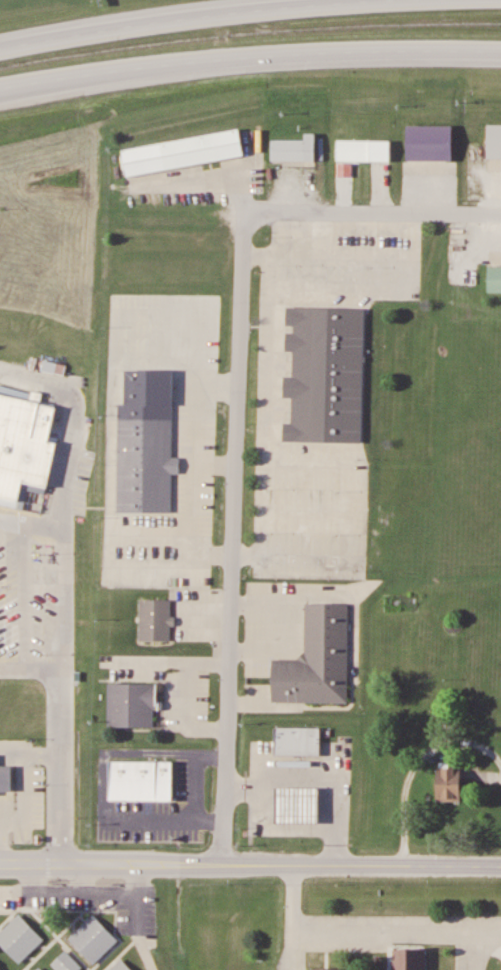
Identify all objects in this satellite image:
road: (249, 13)
road: (249, 61)
building: (494, 141)
building: (430, 143)
building: (294, 150)
building: (364, 151)
building: (182, 153)
road: (371, 211)
building: (494, 278)
building: (326, 374)
building: (25, 451)
building: (146, 465)
road: (29, 524)
road: (232, 537)
road: (59, 590)
road: (26, 596)
parking lot: (28, 597)
building: (396, 602)
building: (156, 620)
building: (317, 660)
road: (30, 668)
building: (132, 706)
building: (298, 741)
building: (6, 779)
building: (141, 781)
building: (449, 784)
building: (301, 807)
road: (250, 866)
road: (294, 918)
road: (397, 929)
building: (20, 938)
building: (93, 939)
road: (478, 946)
building: (408, 959)
building: (65, 962)
building: (121, 966)
building: (0, 969)
building: (39, 969)
building: (325, 969)

